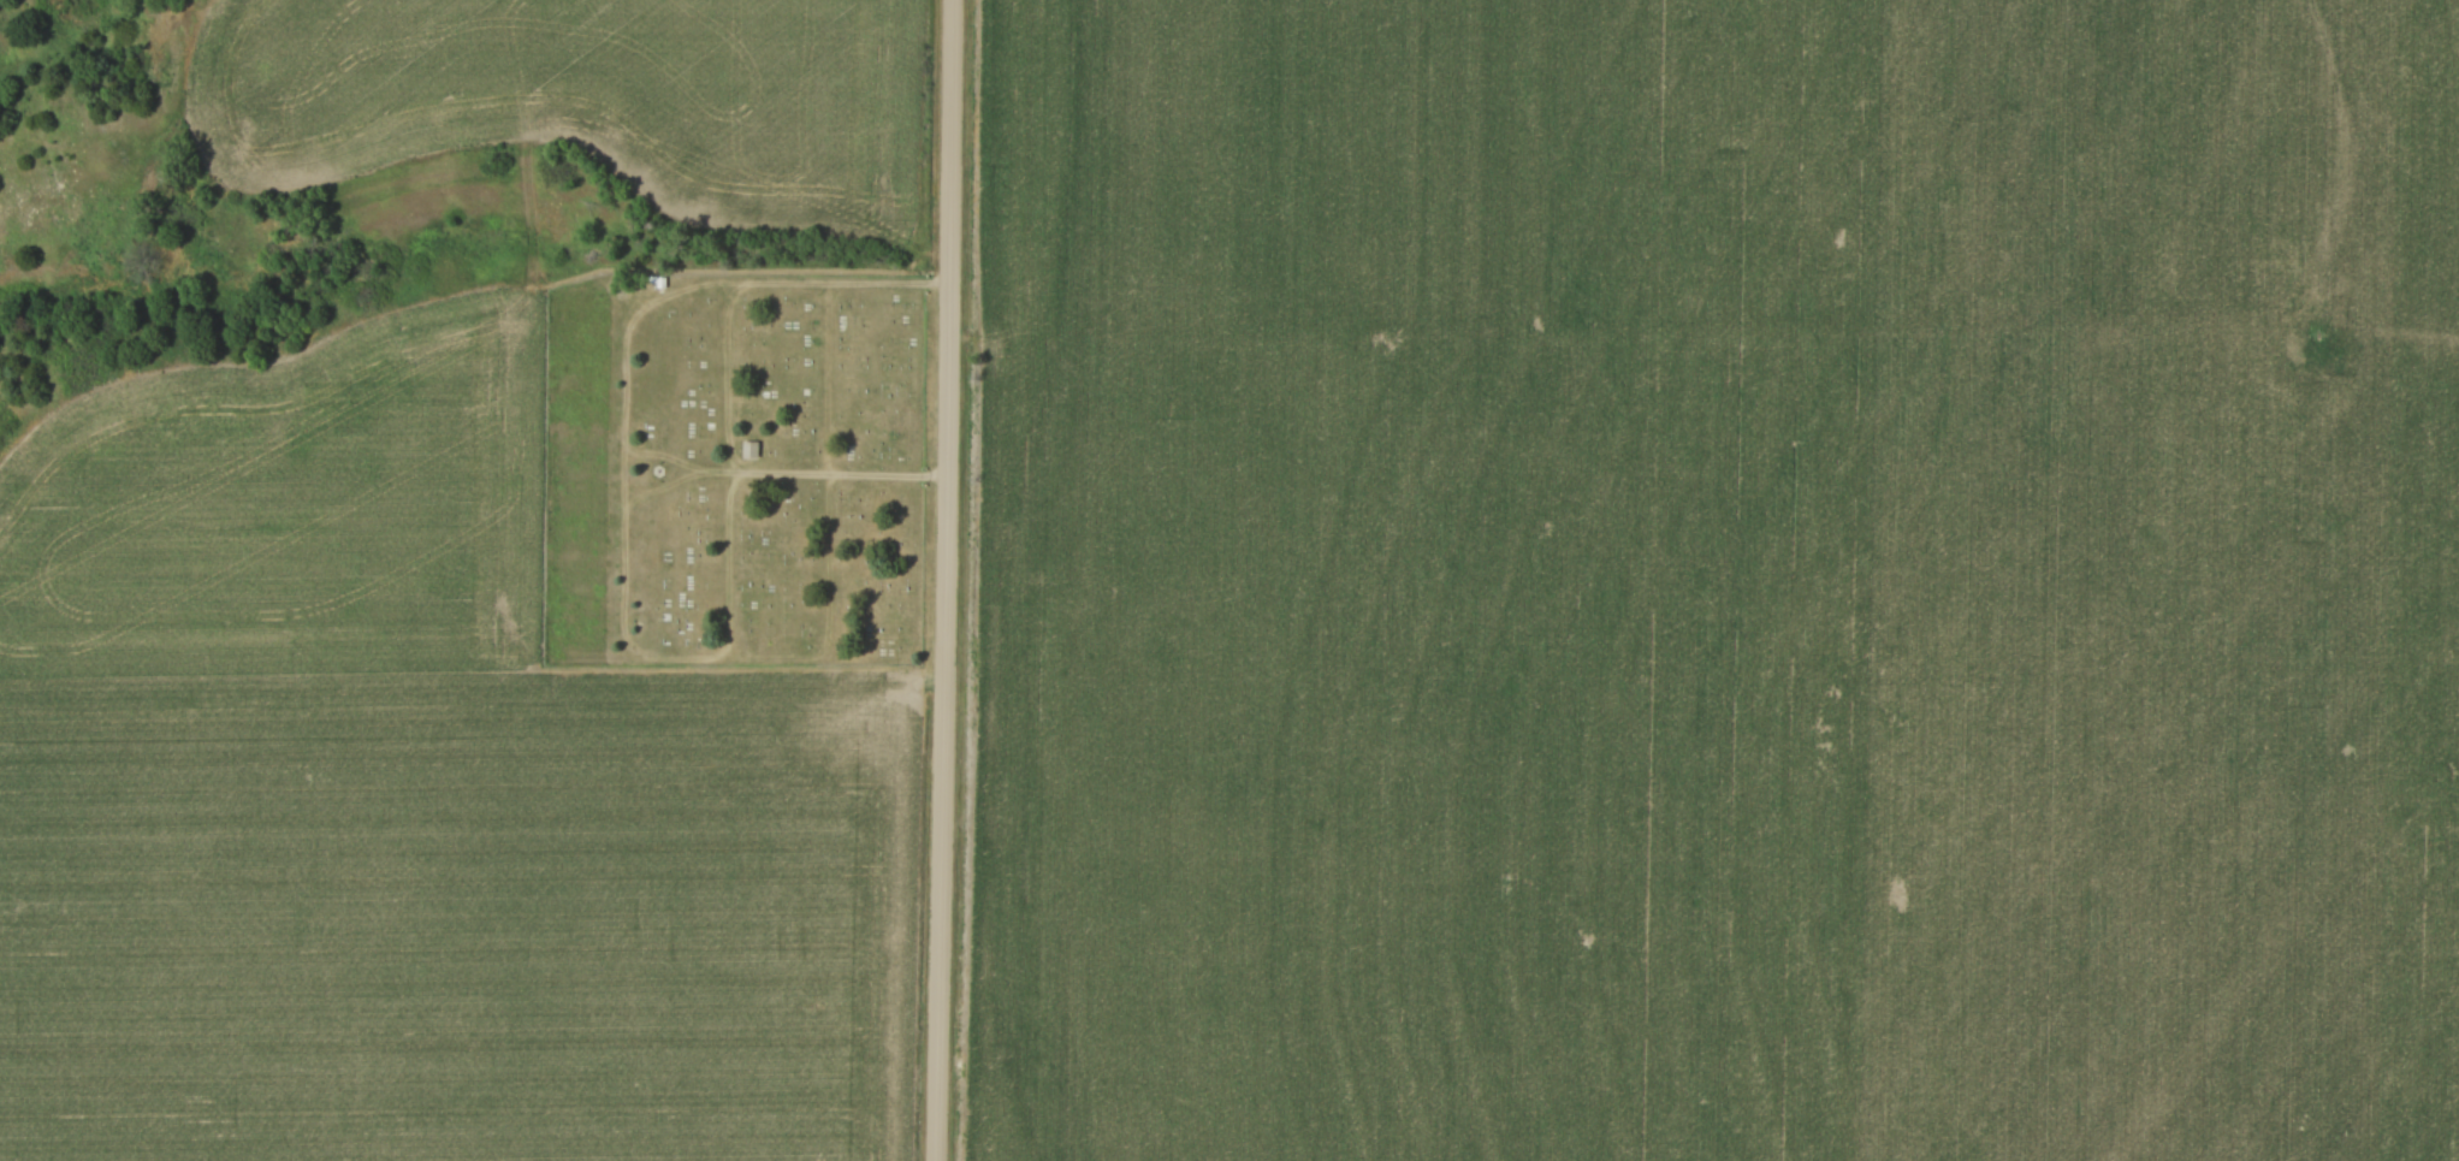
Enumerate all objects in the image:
crop: (12, 7)
crop: (598, 84)
building: (748, 449)
road: (824, 472)
road: (946, 580)
crop: (1707, 580)
crop: (408, 801)

